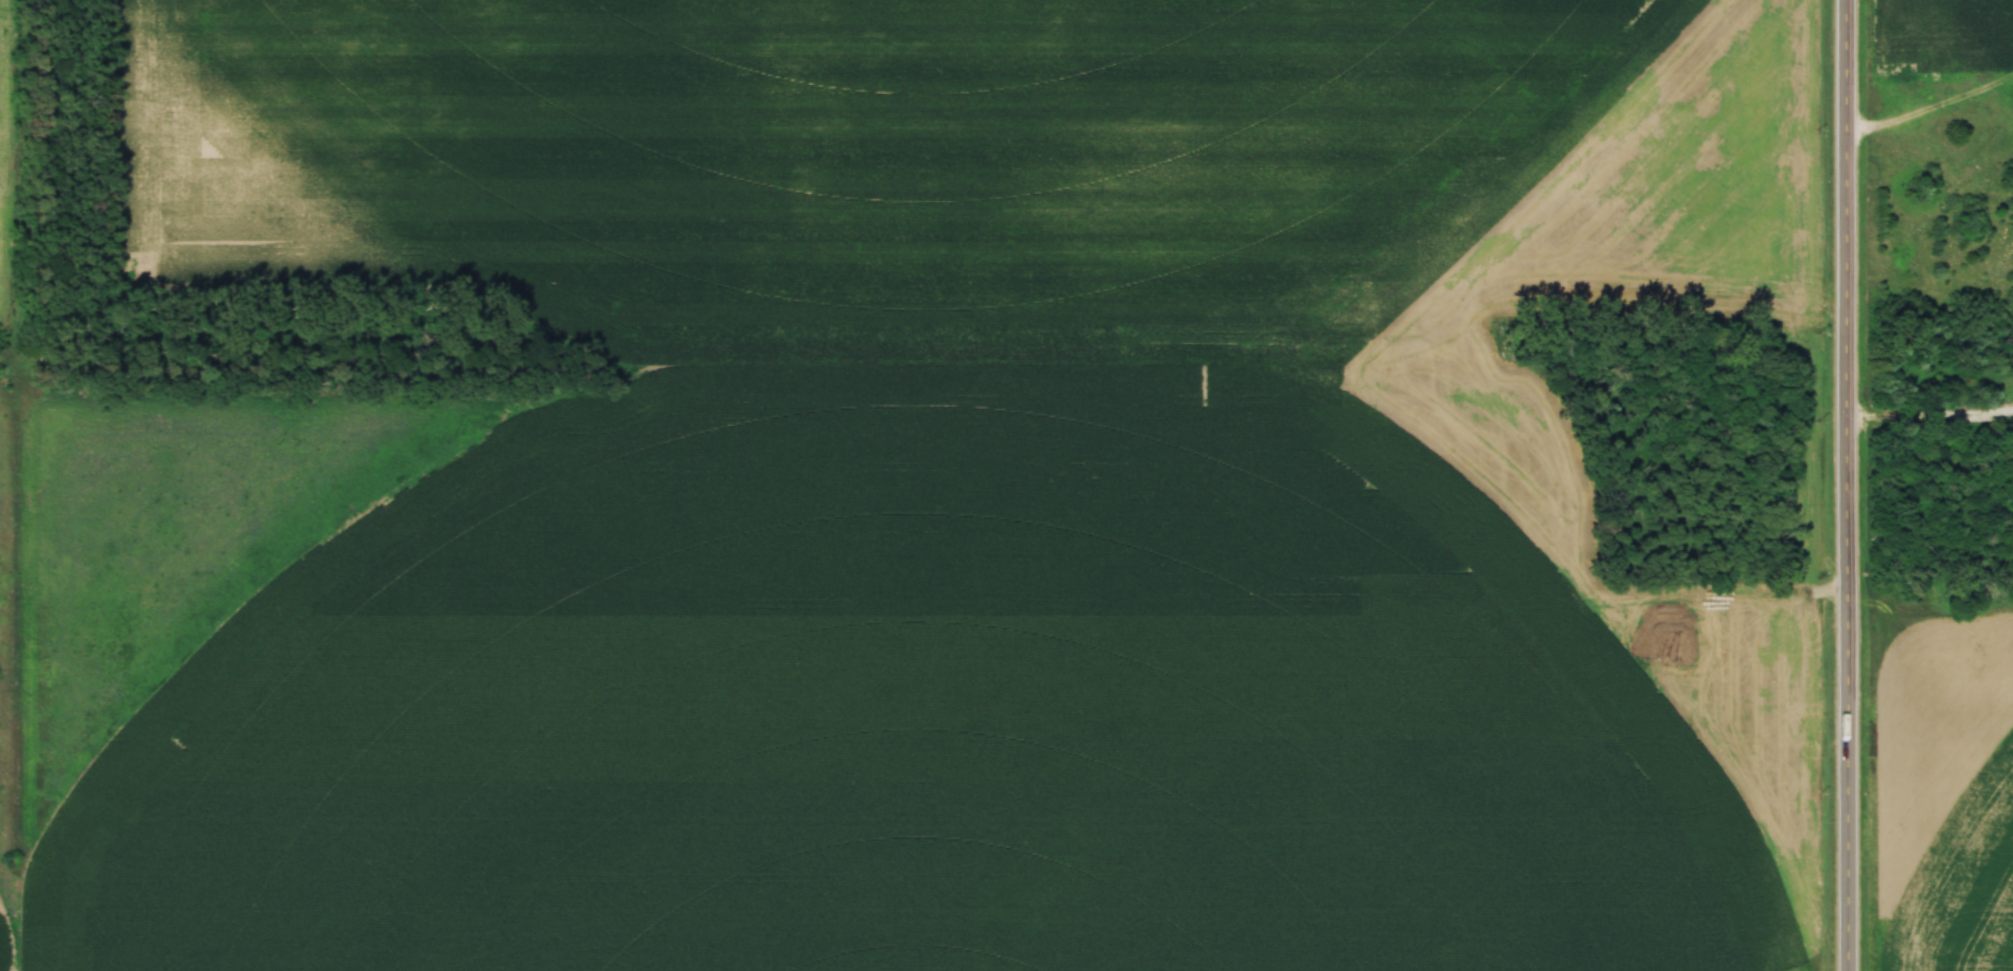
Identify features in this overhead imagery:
road: (1849, 485)

